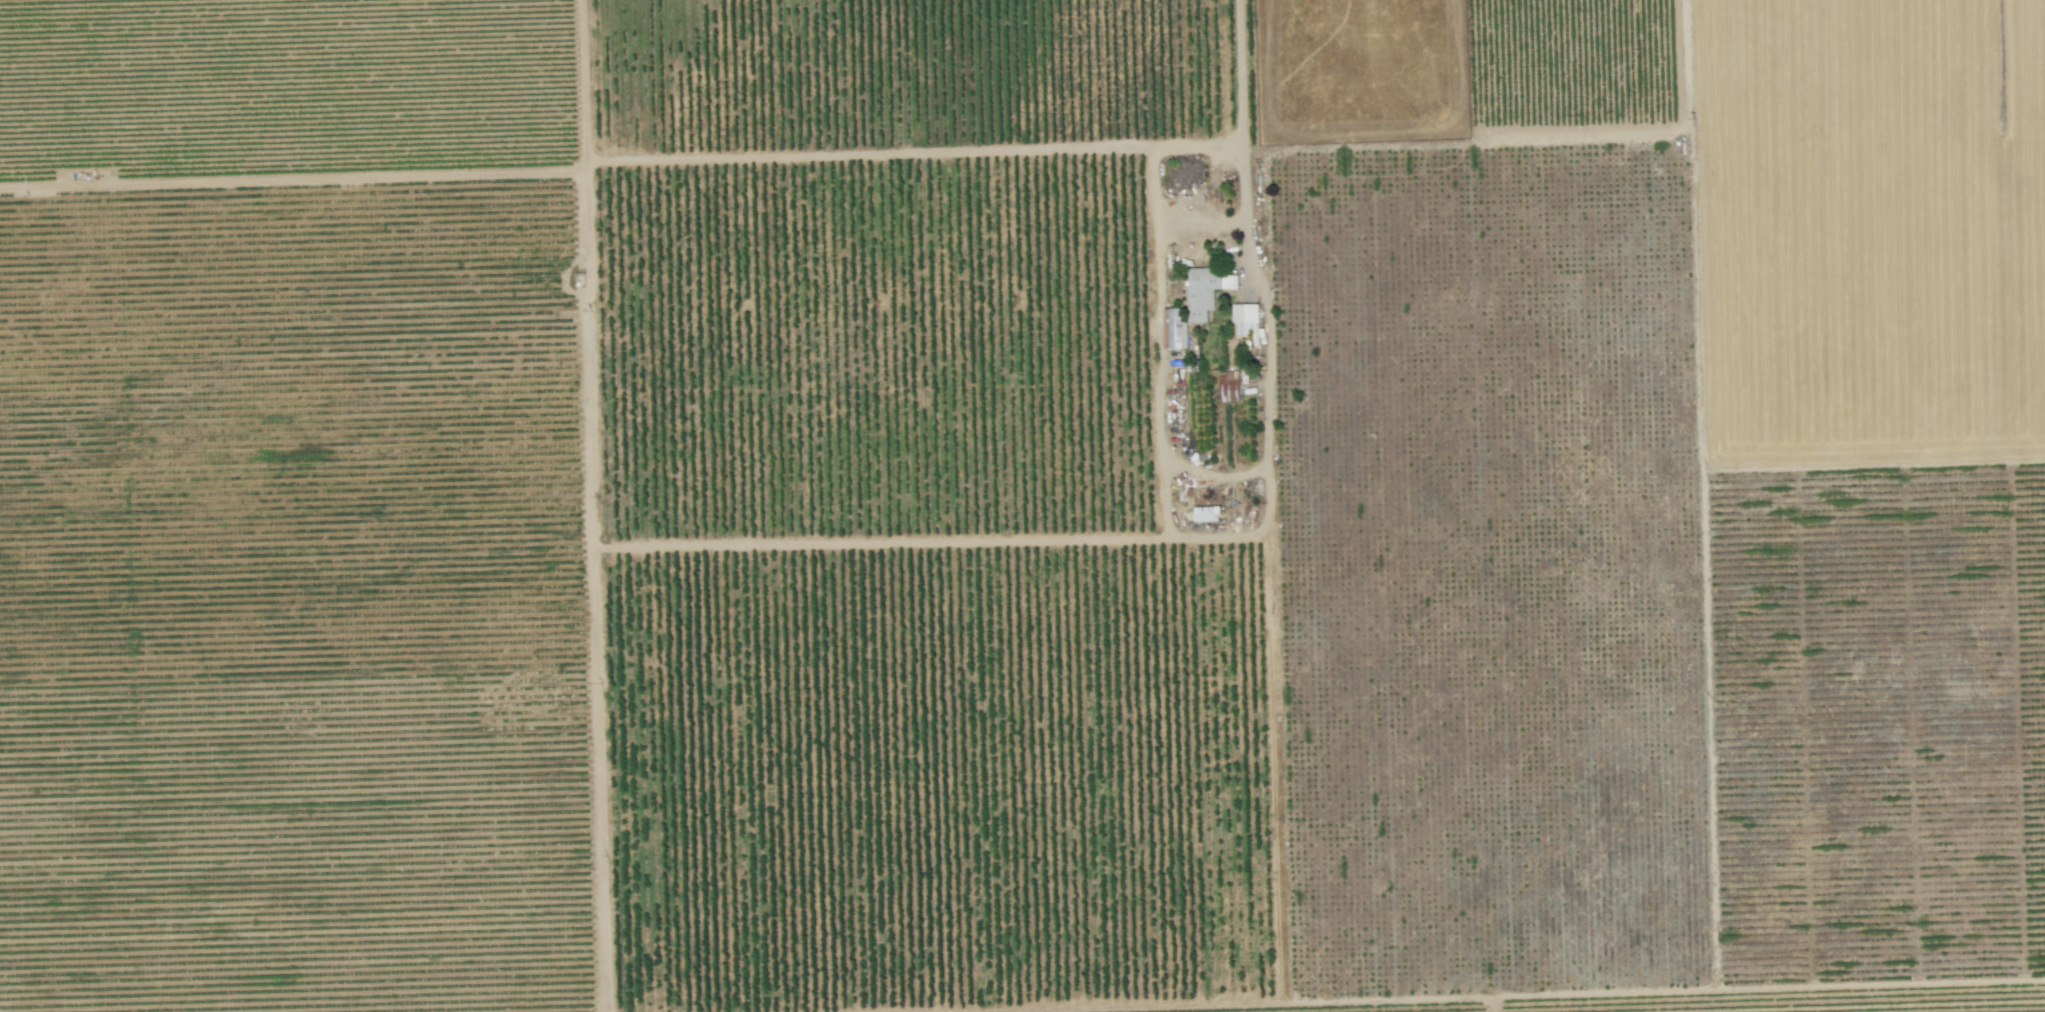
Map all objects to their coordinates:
road: (1240, 68)
road: (1176, 219)
building: (1206, 290)
building: (1244, 317)
building: (1173, 329)
building: (1229, 386)
building: (1201, 513)

